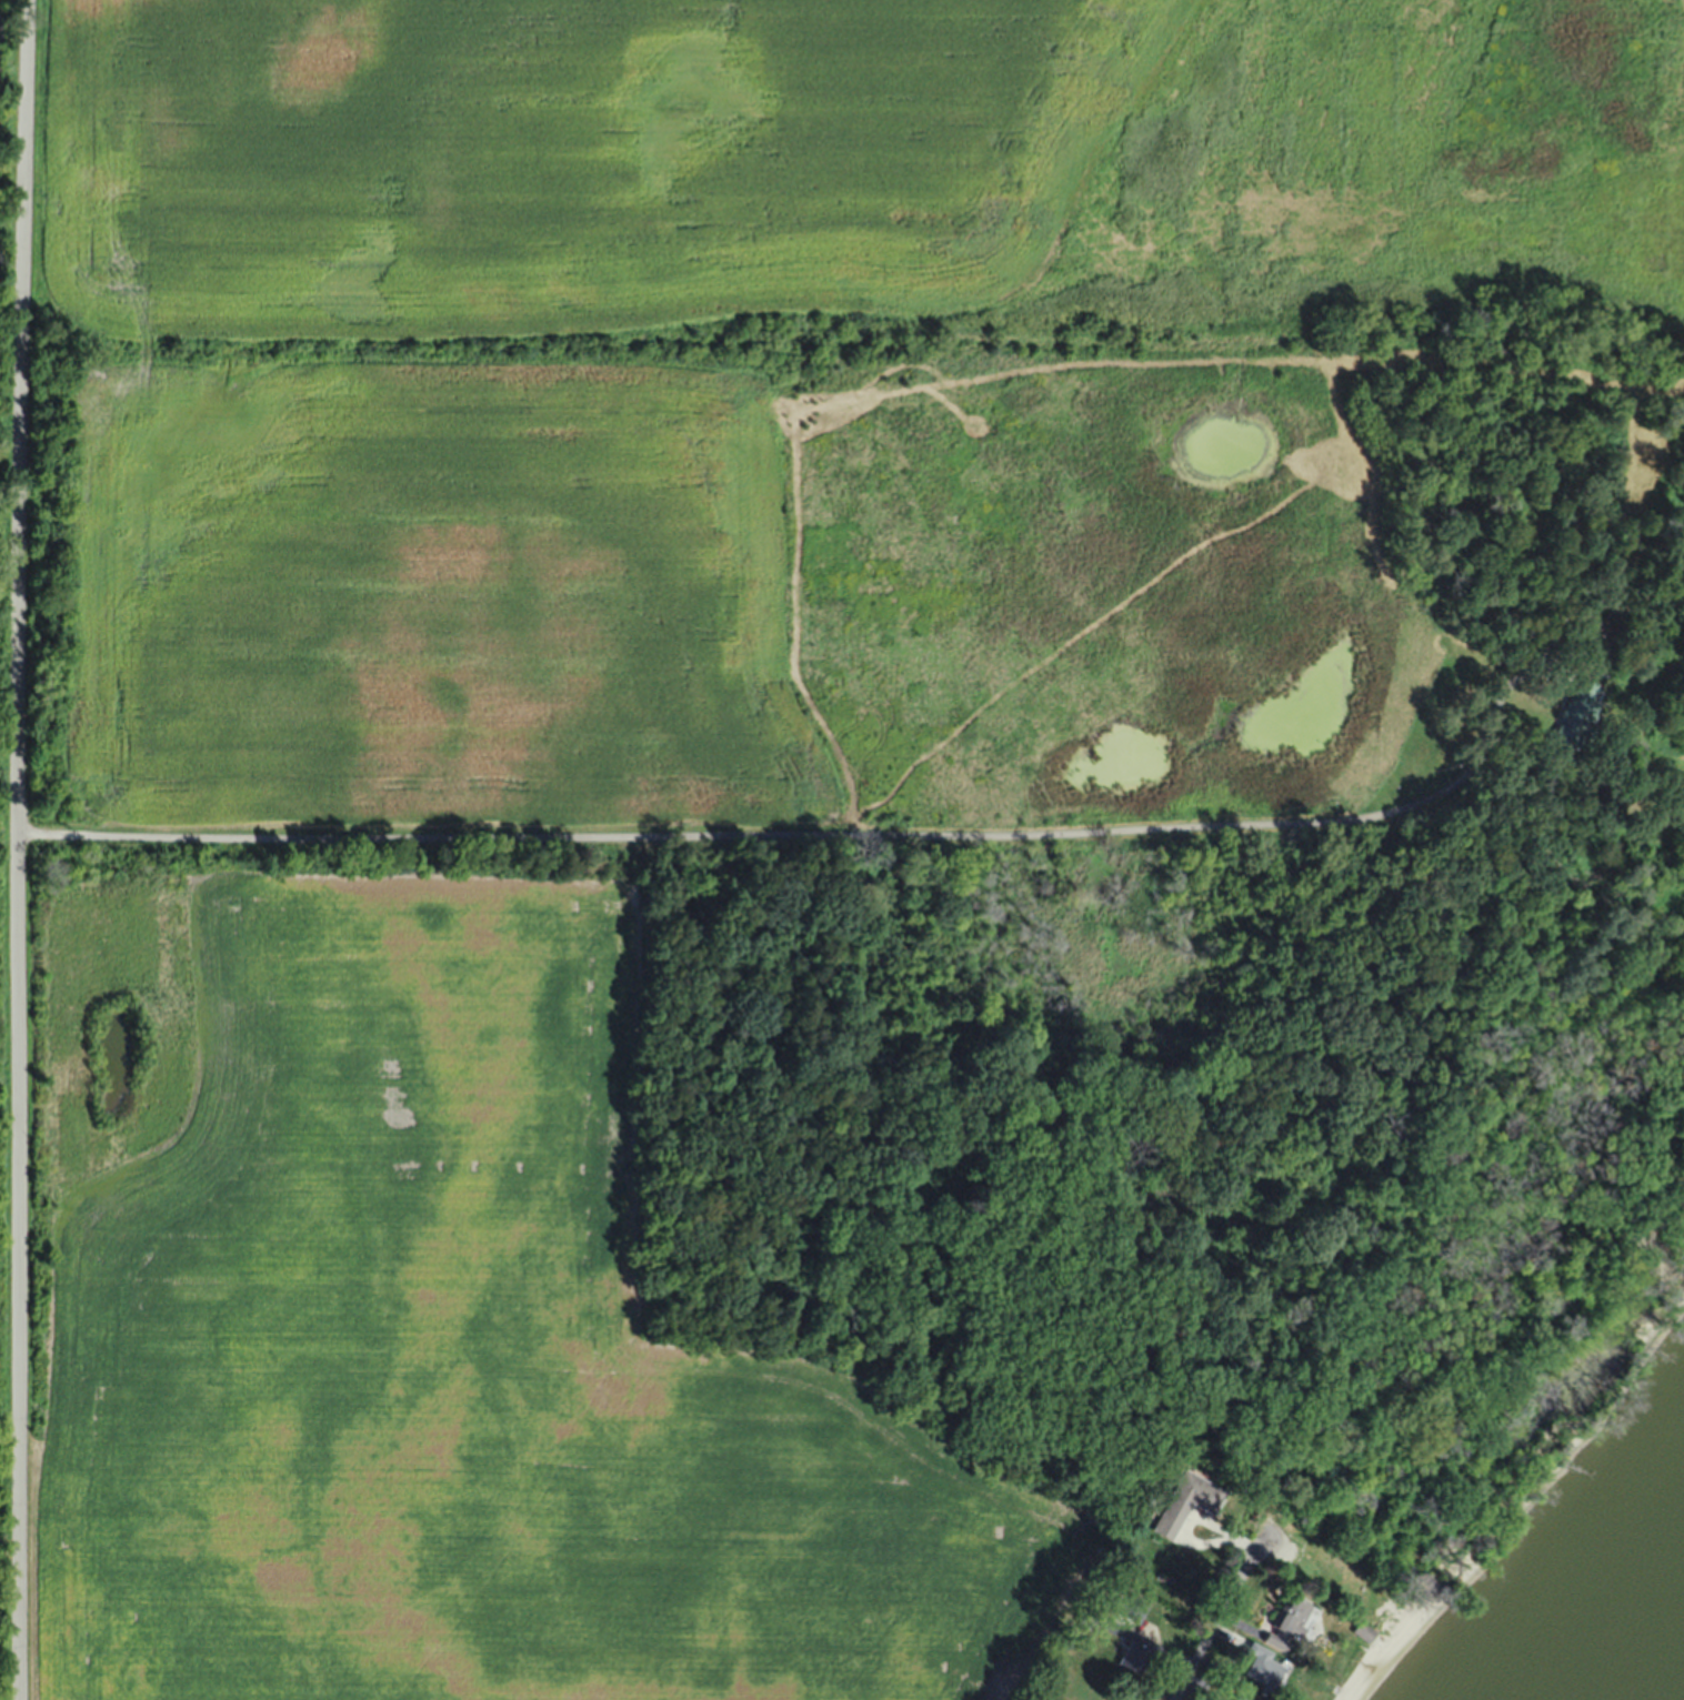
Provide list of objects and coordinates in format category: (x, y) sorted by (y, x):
building: (1573, 713)
road: (1487, 728)
road: (726, 834)
road: (26, 849)
building: (1194, 1492)
building: (1132, 1608)
road: (1227, 1613)
building: (1283, 1621)
building: (1134, 1656)
building: (1257, 1670)
building: (1234, 1699)

